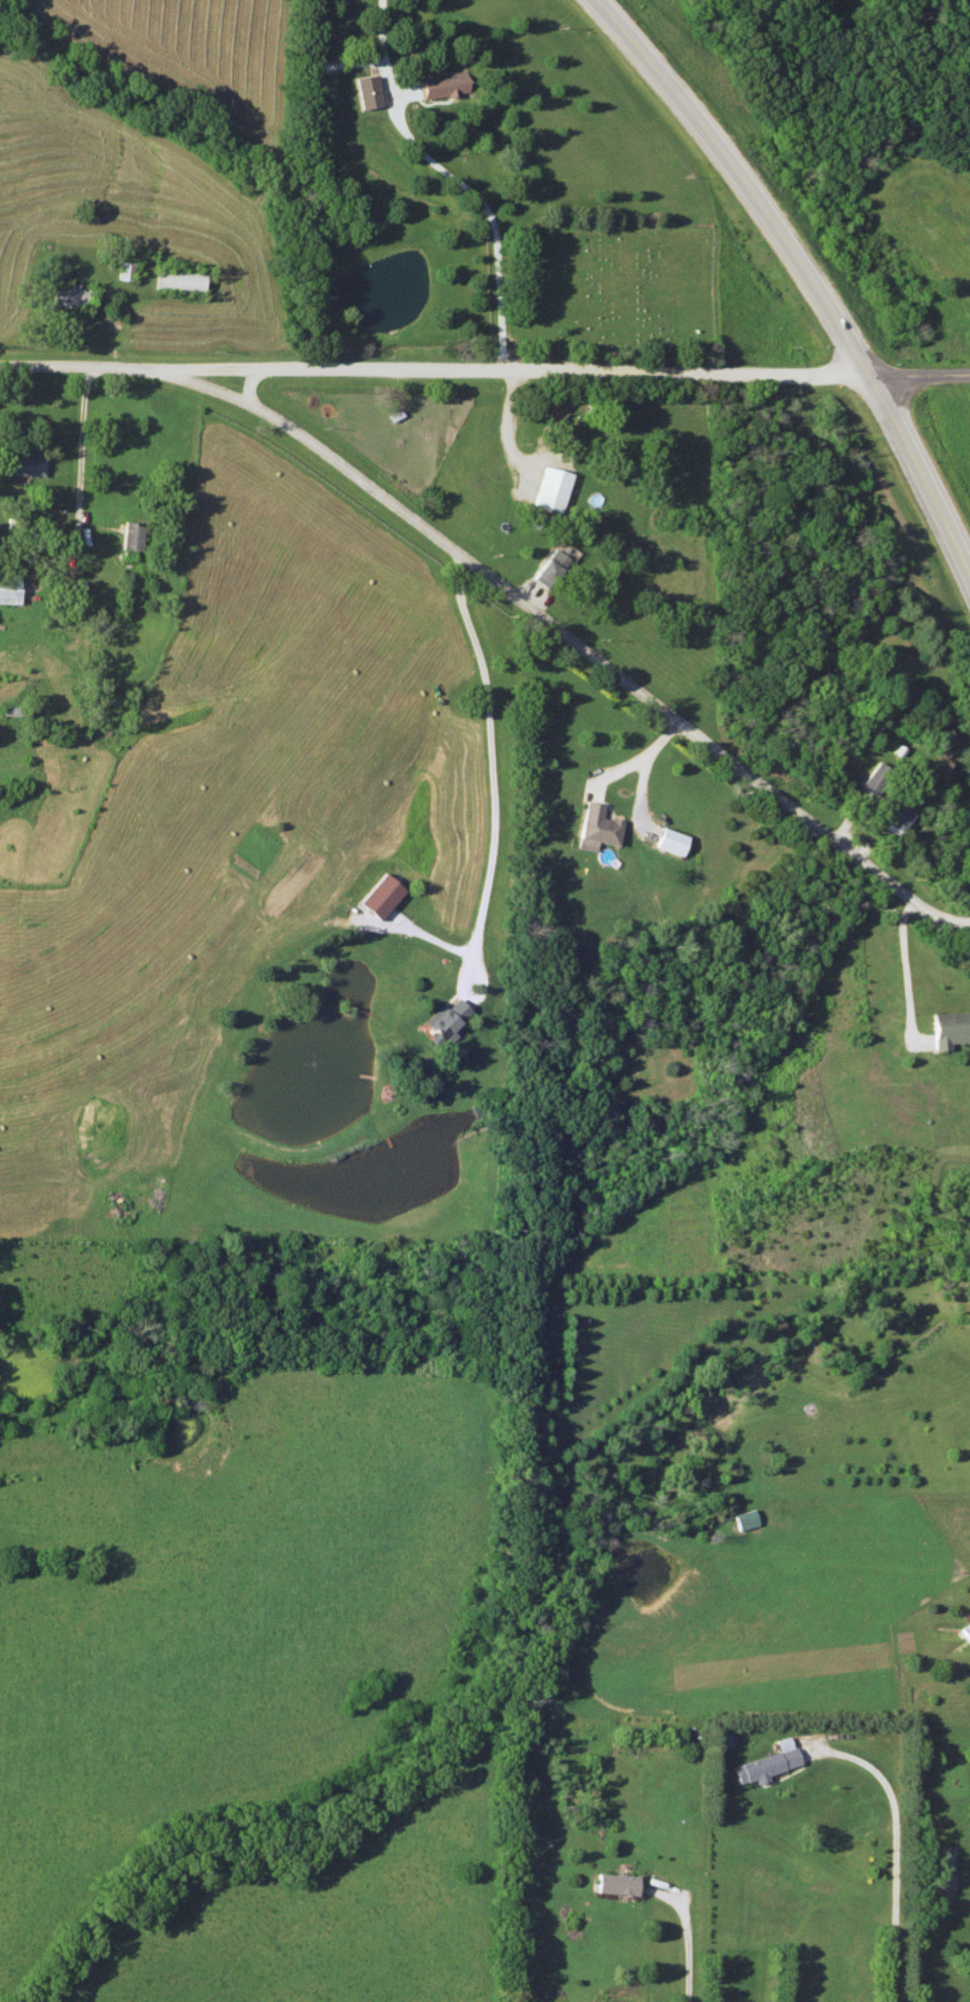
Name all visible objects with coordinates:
building: (445, 89)
road: (452, 178)
building: (126, 271)
building: (180, 282)
road: (800, 283)
park: (612, 285)
building: (71, 297)
road: (563, 369)
road: (130, 370)
road: (917, 374)
road: (79, 451)
building: (26, 464)
building: (551, 489)
building: (132, 535)
building: (549, 568)
building: (9, 589)
road: (592, 657)
building: (14, 710)
building: (884, 715)
road: (637, 756)
road: (489, 763)
building: (875, 778)
building: (894, 816)
building: (598, 827)
building: (671, 841)
road: (904, 968)
building: (446, 1018)
building: (949, 1029)
building: (745, 1519)
building: (966, 1631)
building: (768, 1762)
road: (892, 1849)
building: (615, 1883)
road: (685, 1936)

